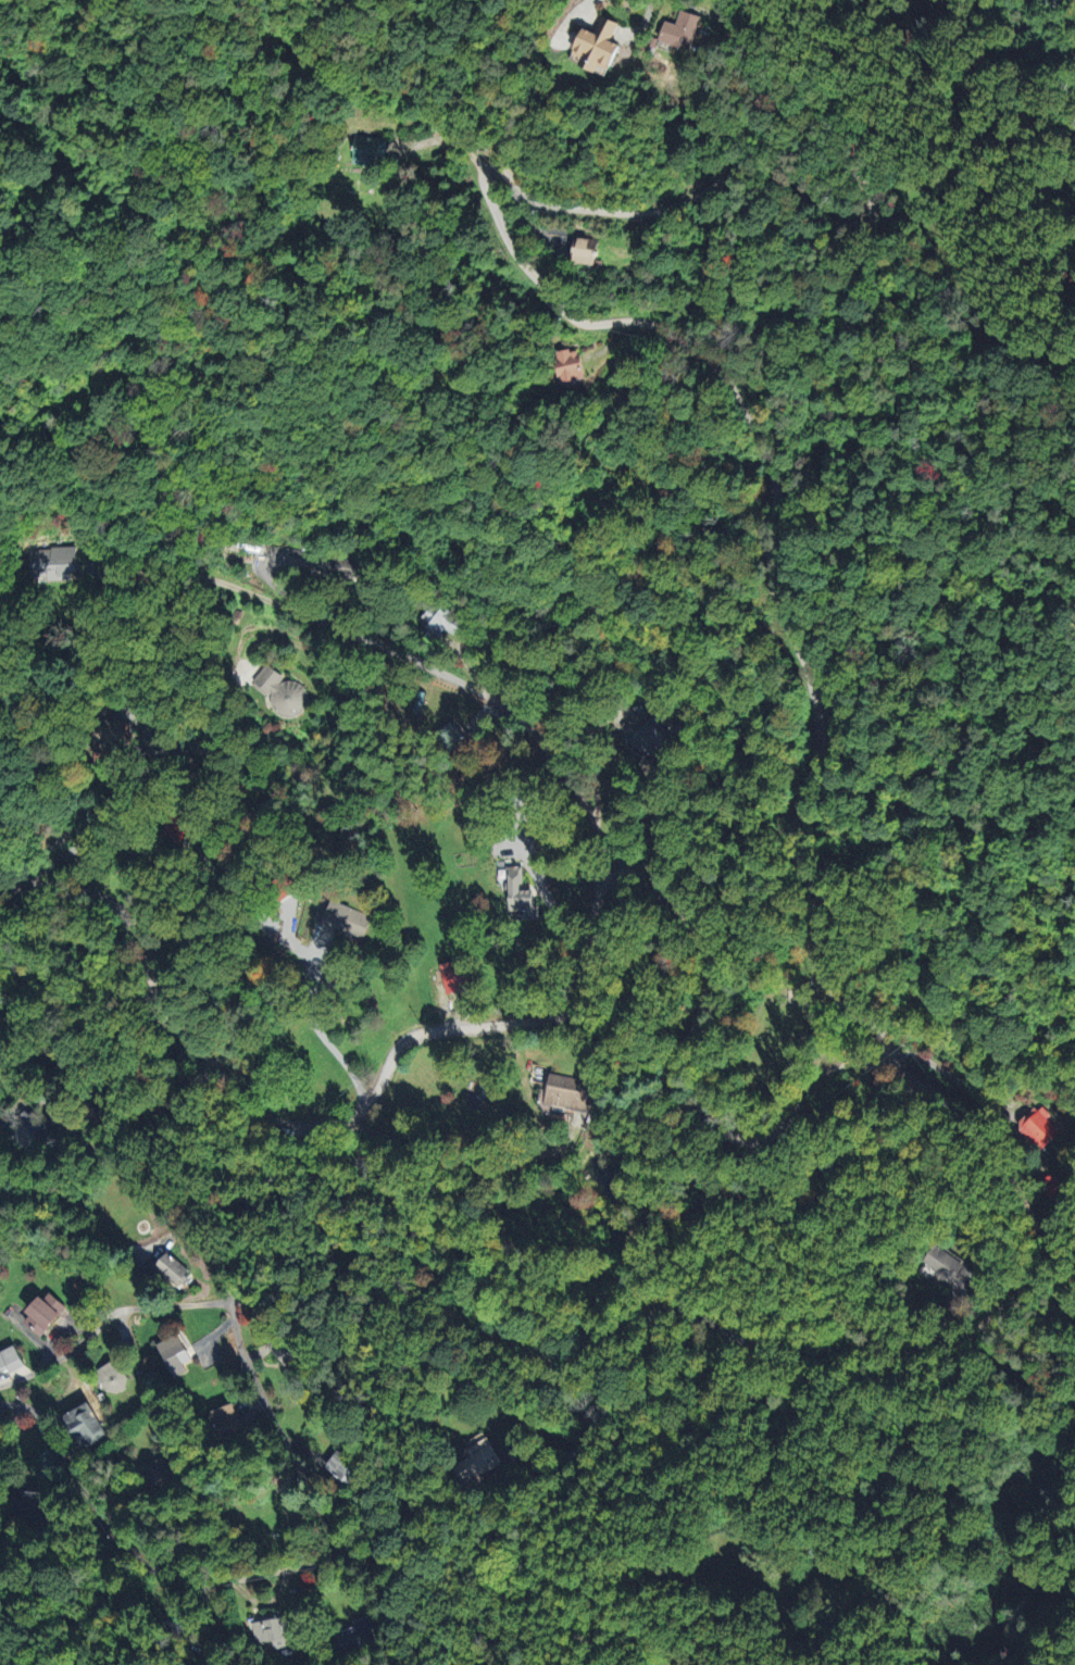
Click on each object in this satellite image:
road: (577, 5)
road: (726, 21)
building: (683, 29)
building: (601, 45)
road: (449, 139)
building: (371, 151)
road: (533, 225)
building: (587, 251)
building: (574, 364)
building: (313, 561)
building: (54, 562)
building: (440, 621)
road: (437, 666)
building: (283, 692)
building: (118, 735)
building: (653, 739)
building: (455, 740)
road: (116, 797)
building: (180, 826)
road: (186, 866)
building: (521, 894)
building: (341, 917)
road: (813, 941)
building: (457, 978)
road: (310, 1018)
road: (953, 1077)
building: (568, 1093)
road: (15, 1102)
building: (1039, 1127)
building: (38, 1128)
road: (471, 1167)
road: (989, 1185)
building: (171, 1268)
building: (951, 1268)
building: (45, 1314)
road: (107, 1315)
road: (649, 1318)
building: (287, 1348)
building: (176, 1354)
building: (10, 1359)
building: (112, 1375)
building: (225, 1419)
building: (82, 1425)
building: (479, 1454)
road: (299, 1457)
building: (345, 1468)
building: (159, 1474)
building: (29, 1505)
road: (528, 1532)
building: (272, 1631)
building: (357, 1635)

